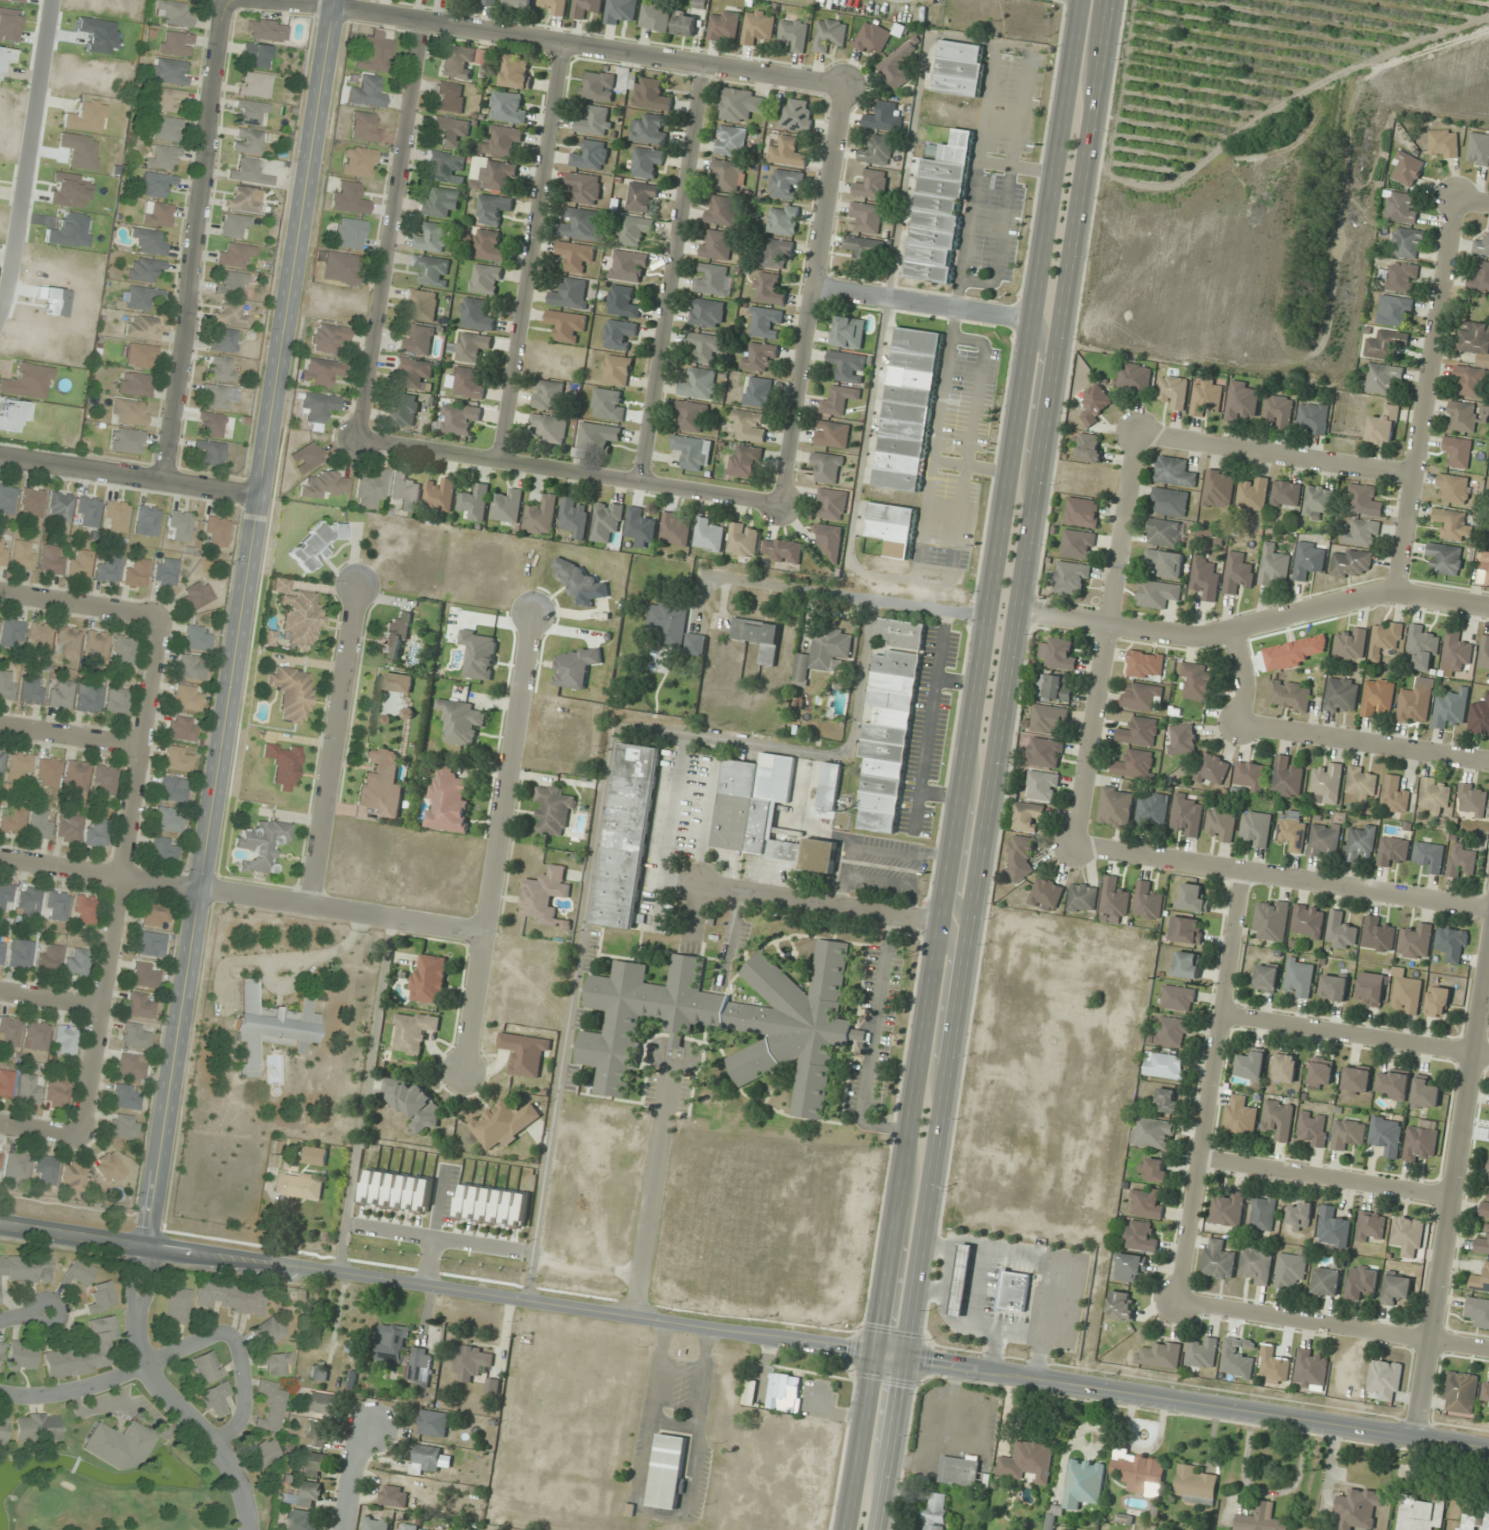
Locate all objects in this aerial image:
building: (490, 2)
building: (519, 3)
road: (305, 4)
building: (554, 6)
building: (586, 8)
building: (621, 11)
building: (172, 14)
road: (378, 14)
building: (655, 16)
building: (685, 23)
building: (724, 26)
building: (758, 26)
building: (266, 30)
building: (794, 34)
building: (830, 34)
building: (873, 37)
building: (175, 44)
road: (633, 53)
building: (256, 55)
building: (374, 55)
building: (457, 62)
building: (898, 65)
building: (960, 68)
building: (516, 71)
building: (168, 72)
building: (254, 85)
building: (598, 85)
building: (367, 93)
building: (652, 94)
building: (450, 98)
building: (163, 99)
building: (740, 104)
building: (507, 108)
building: (251, 113)
building: (797, 114)
building: (884, 117)
building: (596, 121)
building: (364, 128)
building: (167, 129)
building: (650, 129)
building: (451, 130)
building: (502, 140)
building: (731, 140)
building: (247, 141)
building: (1444, 143)
building: (1478, 149)
building: (878, 150)
building: (786, 151)
road: (27, 154)
building: (591, 155)
building: (162, 157)
building: (358, 162)
building: (646, 162)
building: (446, 165)
building: (1407, 169)
building: (249, 173)
building: (728, 174)
building: (495, 177)
building: (786, 183)
building: (154, 184)
building: (872, 185)
building: (585, 187)
building: (642, 197)
building: (349, 198)
building: (244, 199)
road: (1474, 200)
building: (440, 202)
building: (1402, 207)
building: (493, 208)
building: (939, 209)
building: (722, 210)
building: (157, 214)
building: (867, 216)
building: (783, 220)
building: (581, 224)
building: (234, 226)
road: (391, 230)
building: (633, 230)
building: (350, 234)
building: (432, 238)
road: (192, 241)
building: (149, 242)
building: (1408, 243)
building: (716, 244)
building: (488, 245)
building: (1482, 245)
building: (863, 249)
road: (532, 250)
building: (776, 253)
building: (235, 255)
building: (575, 255)
building: (627, 266)
building: (340, 268)
building: (144, 269)
building: (430, 269)
road: (672, 272)
building: (1402, 277)
building: (1480, 278)
building: (486, 279)
building: (713, 279)
building: (230, 284)
building: (768, 288)
building: (572, 293)
road: (811, 293)
building: (142, 298)
building: (622, 301)
road: (923, 302)
building: (422, 304)
building: (1395, 311)
building: (707, 313)
building: (230, 314)
building: (476, 314)
building: (765, 322)
building: (565, 324)
building: (143, 328)
building: (848, 332)
building: (619, 335)
building: (328, 338)
building: (417, 339)
building: (1475, 340)
building: (223, 341)
building: (1385, 343)
building: (471, 347)
building: (706, 347)
building: (759, 356)
building: (140, 357)
building: (847, 366)
building: (220, 370)
building: (616, 370)
building: (321, 372)
building: (414, 372)
building: (1382, 377)
building: (1134, 378)
building: (1470, 380)
building: (468, 382)
building: (699, 384)
building: (135, 385)
building: (758, 391)
building: (1174, 391)
road: (1426, 394)
building: (549, 395)
building: (218, 396)
building: (1206, 397)
building: (838, 400)
road: (1033, 400)
building: (1242, 400)
building: (1094, 404)
building: (317, 409)
building: (908, 409)
building: (404, 410)
building: (1279, 410)
building: (129, 412)
building: (691, 416)
building: (1466, 416)
building: (1313, 417)
building: (459, 418)
building: (210, 424)
building: (749, 425)
building: (1383, 425)
building: (550, 428)
building: (832, 434)
building: (598, 436)
building: (127, 441)
building: (1089, 447)
road: (1276, 451)
building: (1457, 451)
building: (211, 452)
building: (693, 452)
road: (570, 468)
building: (826, 468)
building: (1175, 472)
road: (129, 477)
building: (324, 485)
building: (1219, 488)
building: (1453, 488)
building: (371, 489)
building: (405, 491)
building: (1253, 493)
building: (1286, 494)
building: (440, 495)
building: (7, 499)
building: (1319, 500)
building: (1364, 500)
building: (475, 502)
building: (31, 503)
building: (832, 503)
building: (507, 506)
building: (60, 507)
building: (88, 511)
building: (1082, 512)
building: (541, 515)
building: (115, 516)
building: (574, 517)
building: (146, 521)
building: (606, 521)
building: (891, 521)
building: (640, 524)
building: (1453, 525)
building: (179, 526)
building: (675, 528)
building: (216, 532)
building: (1165, 532)
building: (1363, 533)
building: (708, 534)
building: (1488, 536)
building: (742, 540)
building: (829, 540)
building: (315, 544)
building: (1078, 544)
building: (782, 550)
building: (3, 551)
building: (23, 555)
building: (1445, 558)
building: (51, 560)
building: (1309, 560)
building: (1351, 562)
building: (1162, 563)
building: (80, 564)
building: (1273, 565)
building: (108, 570)
building: (165, 572)
building: (136, 573)
building: (1238, 573)
building: (1487, 573)
building: (1072, 577)
building: (1205, 577)
building: (582, 582)
building: (1158, 593)
building: (197, 595)
road: (848, 595)
road: (79, 605)
road: (1298, 615)
building: (298, 617)
road: (1063, 617)
road: (240, 622)
building: (674, 629)
building: (11, 633)
building: (902, 633)
road: (1106, 636)
building: (395, 637)
building: (759, 637)
building: (196, 639)
building: (1384, 639)
building: (68, 642)
building: (1351, 643)
building: (97, 645)
building: (1422, 648)
building: (124, 649)
building: (1456, 650)
building: (822, 653)
building: (1058, 653)
building: (1484, 653)
building: (1145, 665)
building: (190, 668)
building: (1198, 681)
building: (398, 682)
building: (7, 685)
building: (1054, 687)
building: (32, 689)
building: (292, 694)
building: (60, 695)
building: (1290, 695)
building: (1341, 695)
building: (1142, 696)
building: (1377, 697)
building: (87, 698)
building: (187, 698)
building: (116, 702)
building: (1414, 705)
building: (1448, 711)
building: (1480, 716)
building: (1050, 719)
building: (460, 721)
building: (182, 729)
building: (1139, 731)
road: (1320, 731)
road: (69, 736)
building: (1181, 738)
building: (887, 740)
road: (332, 747)
building: (1045, 752)
building: (177, 759)
building: (1, 764)
building: (1134, 764)
building: (283, 765)
road: (965, 765)
road: (994, 765)
building: (20, 766)
building: (1212, 770)
building: (48, 772)
building: (1249, 775)
building: (76, 776)
building: (1287, 777)
building: (105, 779)
building: (1327, 782)
building: (380, 783)
building: (1362, 784)
building: (1042, 785)
building: (829, 786)
building: (173, 789)
building: (1395, 794)
building: (1436, 795)
building: (1473, 799)
building: (448, 801)
building: (1116, 807)
building: (553, 810)
building: (1152, 810)
building: (764, 813)
building: (1187, 814)
building: (1026, 816)
building: (12, 820)
building: (167, 820)
building: (40, 824)
building: (1220, 824)
building: (68, 828)
building: (1256, 828)
building: (1292, 833)
building: (96, 834)
building: (626, 835)
road: (496, 841)
building: (1324, 841)
building: (1360, 842)
building: (261, 845)
building: (162, 849)
building: (1392, 850)
road: (963, 854)
building: (1020, 856)
building: (1430, 856)
building: (1461, 859)
road: (1281, 876)
road: (120, 877)
building: (1046, 894)
road: (240, 895)
road: (790, 896)
building: (5, 897)
building: (545, 897)
building: (1083, 897)
building: (1192, 898)
building: (1147, 900)
building: (1114, 901)
building: (28, 902)
building: (57, 906)
building: (84, 910)
building: (156, 915)
building: (1271, 919)
building: (1308, 921)
building: (1186, 929)
building: (1341, 931)
building: (1378, 934)
building: (1416, 941)
building: (150, 944)
building: (1452, 944)
building: (1, 949)
building: (20, 954)
building: (49, 959)
building: (76, 963)
building: (1187, 964)
building: (144, 975)
building: (1299, 977)
building: (1267, 978)
building: (430, 979)
building: (1334, 987)
building: (1371, 989)
building: (1406, 994)
building: (1178, 998)
road: (50, 999)
road: (944, 1001)
building: (1438, 1001)
building: (138, 1006)
building: (728, 1021)
building: (271, 1027)
building: (10, 1031)
building: (413, 1031)
building: (1172, 1032)
road: (1356, 1032)
building: (37, 1036)
building: (134, 1036)
building: (66, 1041)
building: (524, 1052)
building: (131, 1065)
building: (1164, 1065)
building: (1251, 1065)
building: (1285, 1067)
building: (1321, 1073)
building: (1357, 1081)
building: (6, 1084)
building: (1394, 1085)
road: (1212, 1086)
building: (29, 1088)
building: (57, 1092)
building: (1426, 1093)
building: (126, 1097)
building: (1167, 1100)
building: (413, 1103)
building: (1240, 1115)
building: (1278, 1119)
building: (502, 1123)
building: (124, 1127)
building: (1314, 1128)
road: (41, 1129)
building: (1348, 1132)
building: (1387, 1134)
building: (1420, 1143)
building: (0, 1154)
building: (315, 1155)
building: (17, 1167)
building: (109, 1168)
building: (1488, 1168)
building: (1154, 1169)
building: (46, 1170)
building: (74, 1176)
road: (1327, 1178)
road: (655, 1183)
building: (299, 1184)
building: (398, 1191)
building: (1147, 1202)
road: (1453, 1203)
building: (492, 1206)
building: (1485, 1207)
building: (1228, 1209)
building: (1263, 1212)
building: (1299, 1215)
building: (1371, 1226)
building: (1333, 1228)
building: (1408, 1235)
building: (1141, 1236)
building: (1482, 1243)
building: (1218, 1259)
building: (1257, 1263)
building: (1130, 1266)
building: (25, 1269)
building: (1290, 1270)
building: (77, 1274)
building: (1481, 1279)
building: (962, 1280)
building: (1326, 1280)
building: (1362, 1281)
building: (1396, 1288)
building: (1015, 1291)
building: (230, 1297)
building: (102, 1298)
building: (1120, 1305)
building: (177, 1306)
building: (1478, 1311)
road: (21, 1315)
road: (1334, 1324)
road: (745, 1331)
building: (268, 1332)
building: (392, 1343)
road: (239, 1351)
building: (86, 1352)
building: (1202, 1352)
building: (1, 1353)
building: (1159, 1354)
building: (22, 1356)
traffic signals: (902, 1357)
building: (472, 1360)
building: (276, 1363)
building: (1273, 1363)
building: (420, 1365)
building: (206, 1367)
building: (1311, 1368)
building: (319, 1373)
building: (1386, 1379)
building: (493, 1385)
road: (76, 1389)
building: (1486, 1390)
building: (784, 1392)
building: (1460, 1392)
road: (171, 1395)
building: (216, 1399)
building: (319, 1402)
building: (271, 1406)
building: (433, 1423)
building: (3, 1426)
building: (37, 1428)
building: (317, 1434)
building: (119, 1445)
building: (262, 1453)
building: (426, 1459)
building: (1029, 1462)
building: (313, 1463)
building: (668, 1470)
building: (960, 1471)
building: (1139, 1471)
road: (352, 1477)
building: (1084, 1483)
building: (1195, 1485)
building: (308, 1493)
building: (395, 1496)
building: (1359, 1509)
building: (936, 1511)
building: (1421, 1512)
building: (1261, 1519)
building: (300, 1520)
building: (1475, 1521)
building: (376, 1523)
building: (407, 1526)
building: (425, 1529)

